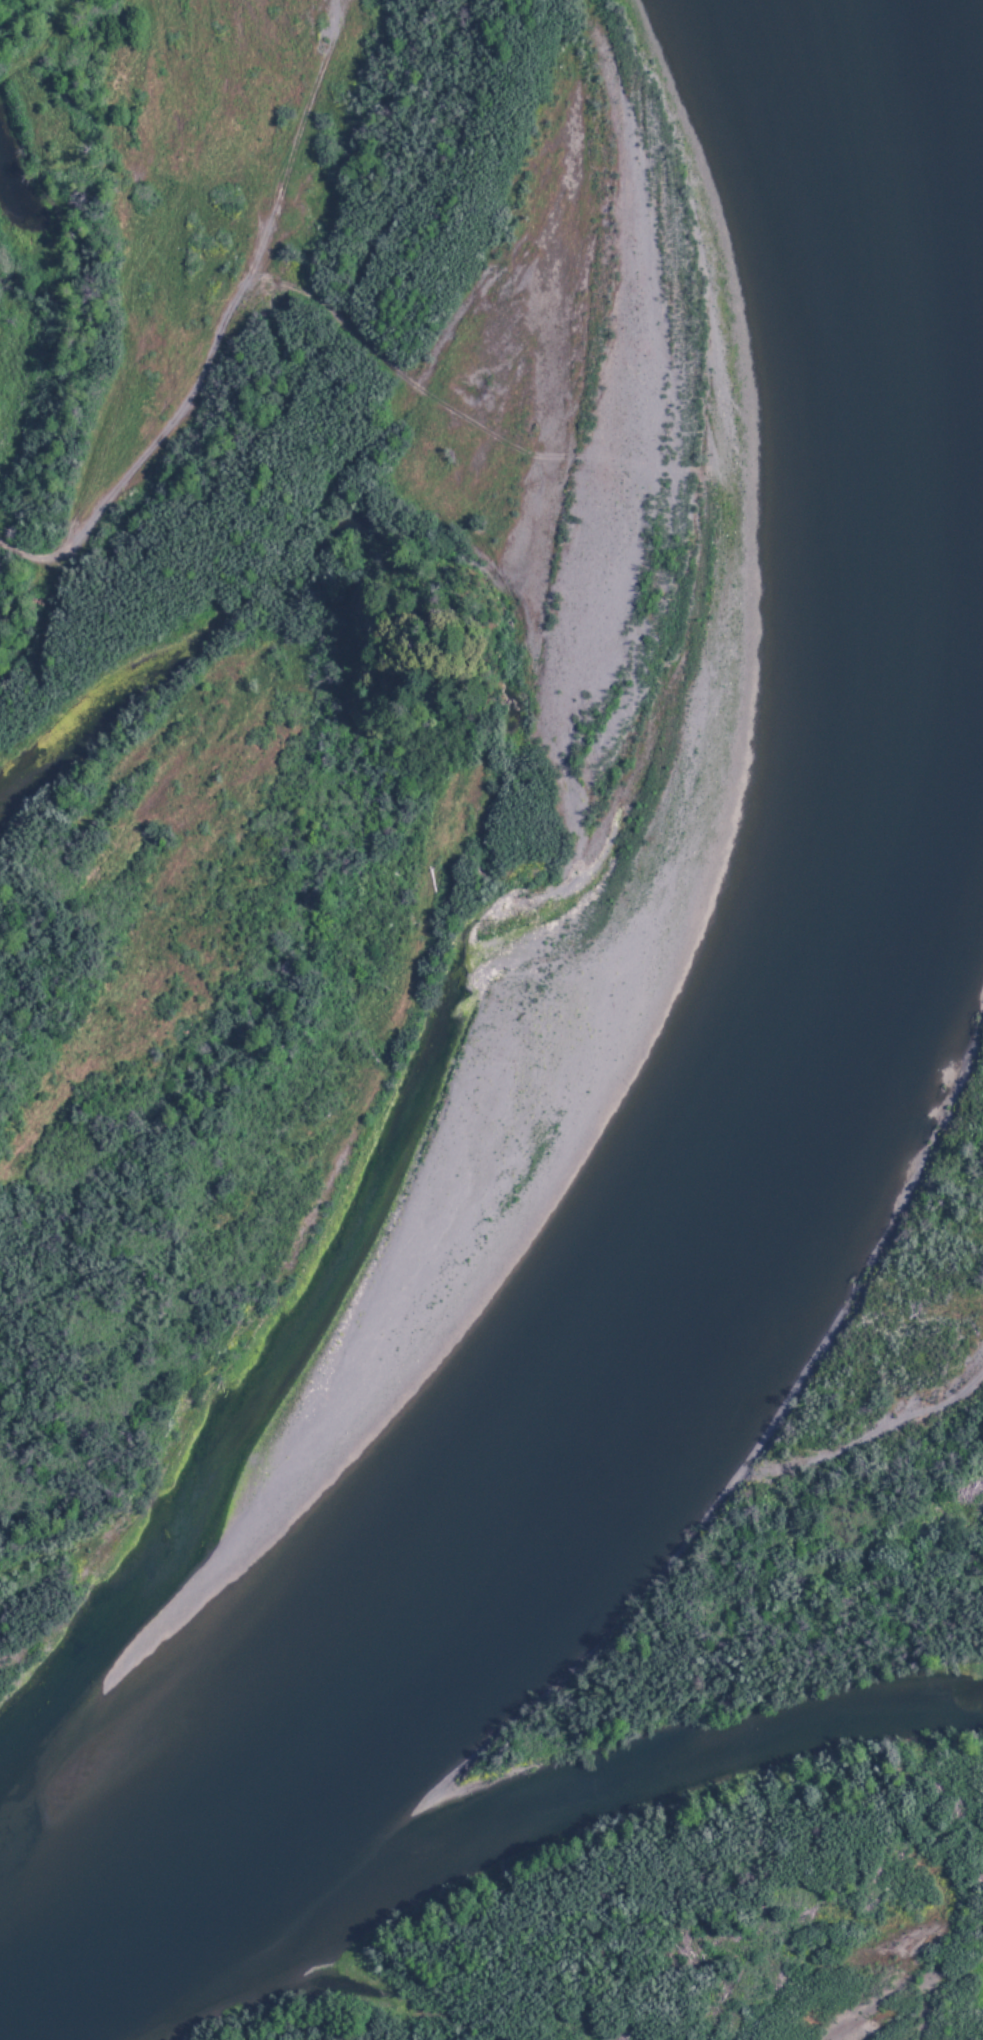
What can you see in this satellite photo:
river: (539, 1000)

